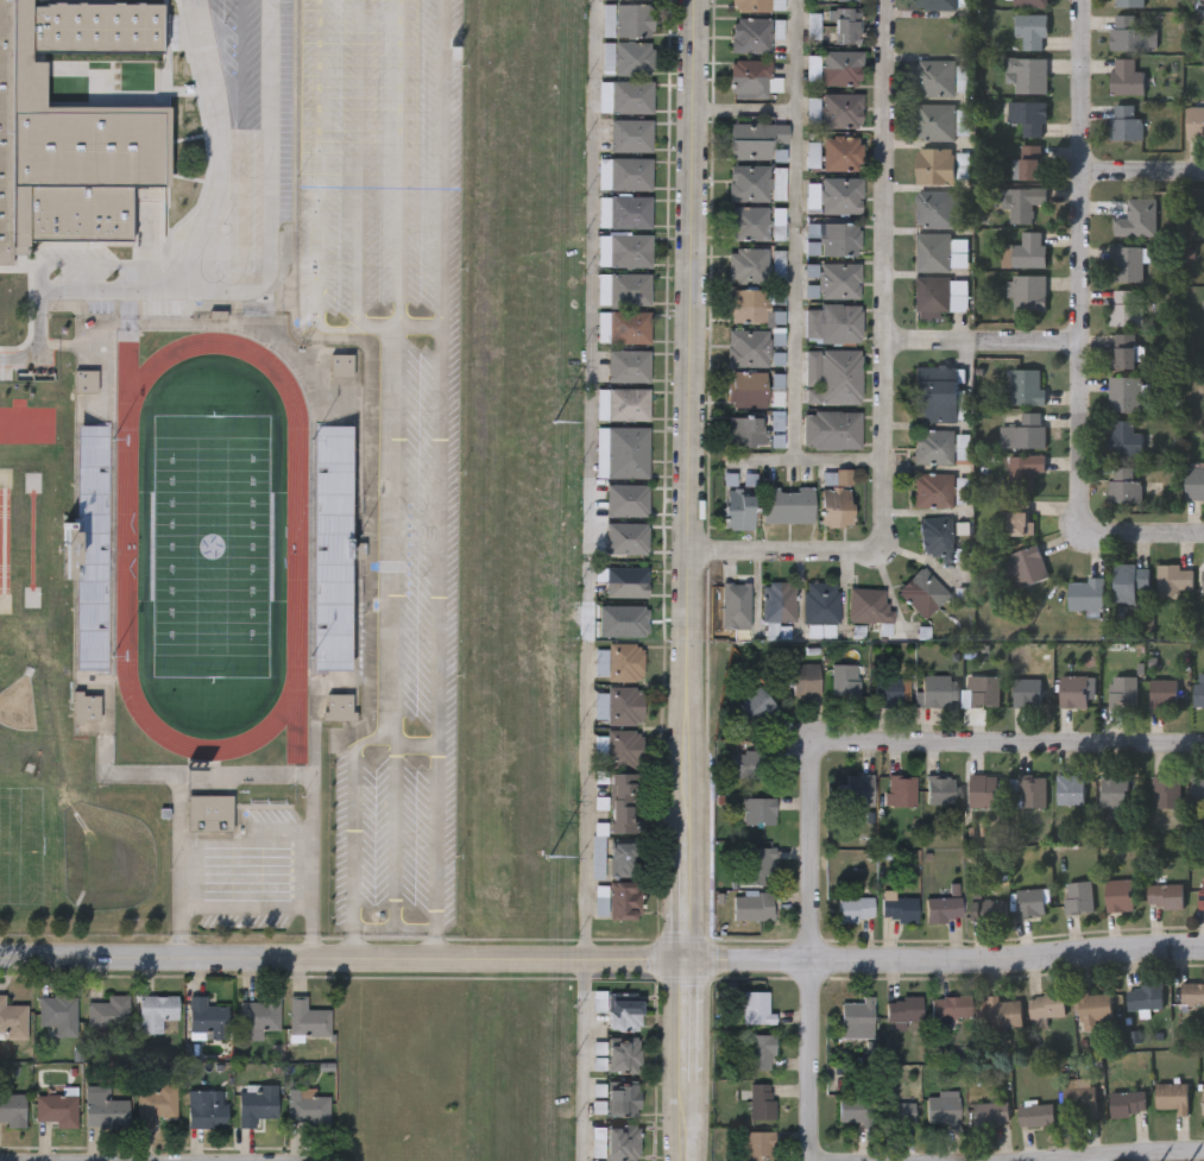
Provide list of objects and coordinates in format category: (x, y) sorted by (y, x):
building: (637, 0)
building: (841, 0)
building: (1028, 2)
building: (1127, 2)
building: (937, 4)
building: (758, 5)
road: (202, 14)
building: (635, 19)
building: (847, 25)
building: (1029, 30)
building: (752, 33)
building: (1130, 33)
road: (323, 55)
building: (635, 57)
building: (843, 67)
building: (1026, 74)
building: (750, 77)
building: (935, 77)
building: (626, 95)
road: (744, 109)
building: (843, 109)
building: (1027, 115)
building: (1194, 119)
building: (935, 121)
building: (1124, 122)
building: (7, 132)
building: (631, 134)
building: (756, 138)
road: (241, 144)
road: (220, 147)
building: (843, 152)
building: (1027, 162)
building: (935, 165)
road: (1141, 168)
building: (625, 172)
building: (314, 173)
building: (750, 182)
road: (367, 183)
building: (843, 195)
building: (1020, 201)
building: (935, 207)
building: (625, 210)
building: (1124, 216)
building: (750, 222)
road: (796, 231)
building: (313, 234)
building: (839, 238)
building: (625, 250)
building: (1028, 250)
building: (932, 251)
building: (1126, 263)
road: (90, 264)
building: (749, 264)
road: (1079, 264)
road: (885, 273)
building: (840, 279)
road: (252, 288)
road: (592, 288)
building: (625, 289)
building: (1026, 291)
building: (933, 292)
building: (313, 296)
building: (749, 304)
building: (1124, 307)
building: (833, 322)
building: (624, 327)
road: (982, 339)
building: (749, 347)
building: (1124, 351)
building: (623, 365)
building: (341, 367)
building: (833, 376)
building: (86, 385)
building: (1025, 386)
building: (749, 389)
building: (1124, 392)
building: (937, 393)
building: (623, 403)
power tower: (553, 423)
building: (832, 428)
building: (745, 430)
building: (1022, 431)
building: (1124, 438)
building: (935, 446)
building: (623, 452)
road: (811, 461)
building: (1022, 469)
road: (439, 479)
road: (691, 479)
building: (1123, 484)
building: (1194, 484)
road: (403, 486)
building: (934, 490)
building: (838, 497)
building: (789, 504)
building: (739, 507)
building: (1021, 522)
road: (1142, 531)
building: (937, 535)
park: (210, 544)
building: (89, 548)
building: (329, 548)
road: (786, 549)
building: (1026, 566)
building: (1172, 580)
building: (1203, 580)
building: (626, 581)
building: (1129, 581)
building: (924, 592)
building: (1086, 595)
building: (780, 600)
building: (821, 601)
building: (736, 604)
building: (869, 605)
road: (663, 638)
building: (625, 661)
building: (806, 680)
building: (846, 681)
building: (983, 692)
building: (1074, 692)
building: (890, 693)
building: (935, 693)
building: (1027, 693)
building: (1122, 693)
building: (1162, 694)
building: (1198, 695)
building: (624, 705)
building: (86, 706)
building: (758, 707)
track: (277, 709)
track: (297, 712)
building: (623, 749)
road: (808, 756)
building: (745, 764)
building: (901, 790)
building: (940, 790)
building: (1071, 790)
building: (859, 791)
building: (983, 791)
building: (1166, 791)
building: (1197, 791)
building: (1032, 793)
building: (1115, 793)
building: (623, 801)
road: (585, 812)
building: (758, 812)
building: (209, 813)
building: (624, 858)
power tower: (546, 860)
building: (757, 865)
building: (1202, 892)
building: (1118, 896)
building: (624, 897)
building: (1165, 897)
building: (600, 898)
building: (1077, 898)
building: (1030, 903)
road: (245, 904)
building: (757, 907)
building: (897, 908)
building: (856, 909)
building: (944, 910)
building: (988, 910)
road: (310, 930)
road: (181, 932)
road: (601, 959)
building: (1192, 995)
building: (1145, 998)
building: (1047, 1005)
building: (756, 1008)
building: (950, 1008)
building: (1093, 1009)
building: (903, 1010)
building: (624, 1011)
building: (1004, 1012)
building: (57, 1014)
building: (157, 1014)
building: (107, 1015)
building: (259, 1016)
building: (857, 1018)
building: (12, 1020)
building: (206, 1020)
building: (311, 1022)
building: (762, 1053)
building: (623, 1054)
road: (582, 1060)
road: (686, 1060)
building: (1172, 1097)
building: (623, 1099)
building: (1078, 1099)
building: (1203, 1100)
building: (761, 1102)
building: (155, 1104)
building: (256, 1104)
building: (1127, 1104)
building: (305, 1105)
building: (103, 1108)
building: (12, 1109)
building: (55, 1109)
building: (204, 1110)
building: (855, 1110)
building: (941, 1110)
building: (901, 1112)
building: (990, 1113)
building: (1036, 1115)
building: (623, 1141)
building: (757, 1146)
road: (1007, 1148)
road: (151, 1155)

